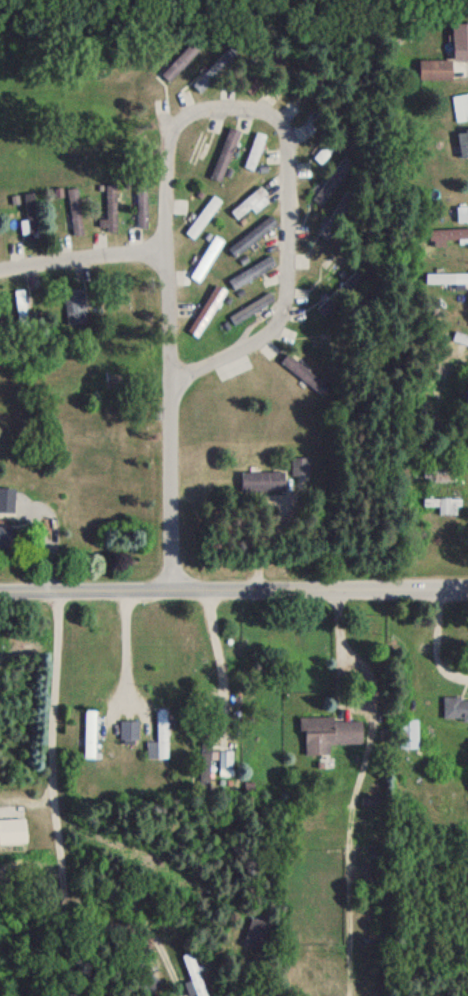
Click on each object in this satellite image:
building: (459, 39)
building: (460, 106)
building: (463, 141)
building: (253, 150)
building: (322, 151)
building: (194, 152)
building: (224, 154)
road: (287, 165)
building: (330, 180)
building: (250, 201)
building: (140, 205)
building: (75, 209)
building: (108, 209)
building: (461, 212)
building: (28, 216)
building: (202, 216)
building: (447, 233)
building: (251, 234)
road: (81, 256)
building: (205, 257)
building: (250, 270)
building: (448, 277)
building: (336, 295)
building: (20, 304)
road: (180, 304)
building: (75, 305)
building: (205, 305)
building: (250, 307)
building: (319, 341)
building: (299, 367)
building: (439, 377)
road: (171, 481)
building: (262, 481)
building: (442, 504)
road: (49, 517)
building: (5, 535)
road: (234, 590)
road: (436, 643)
road: (123, 646)
road: (217, 659)
building: (454, 707)
building: (127, 728)
building: (88, 731)
building: (328, 731)
building: (406, 731)
building: (158, 735)
road: (367, 742)
building: (224, 757)
building: (203, 762)
road: (47, 793)
building: (12, 830)
building: (256, 932)
building: (193, 973)

